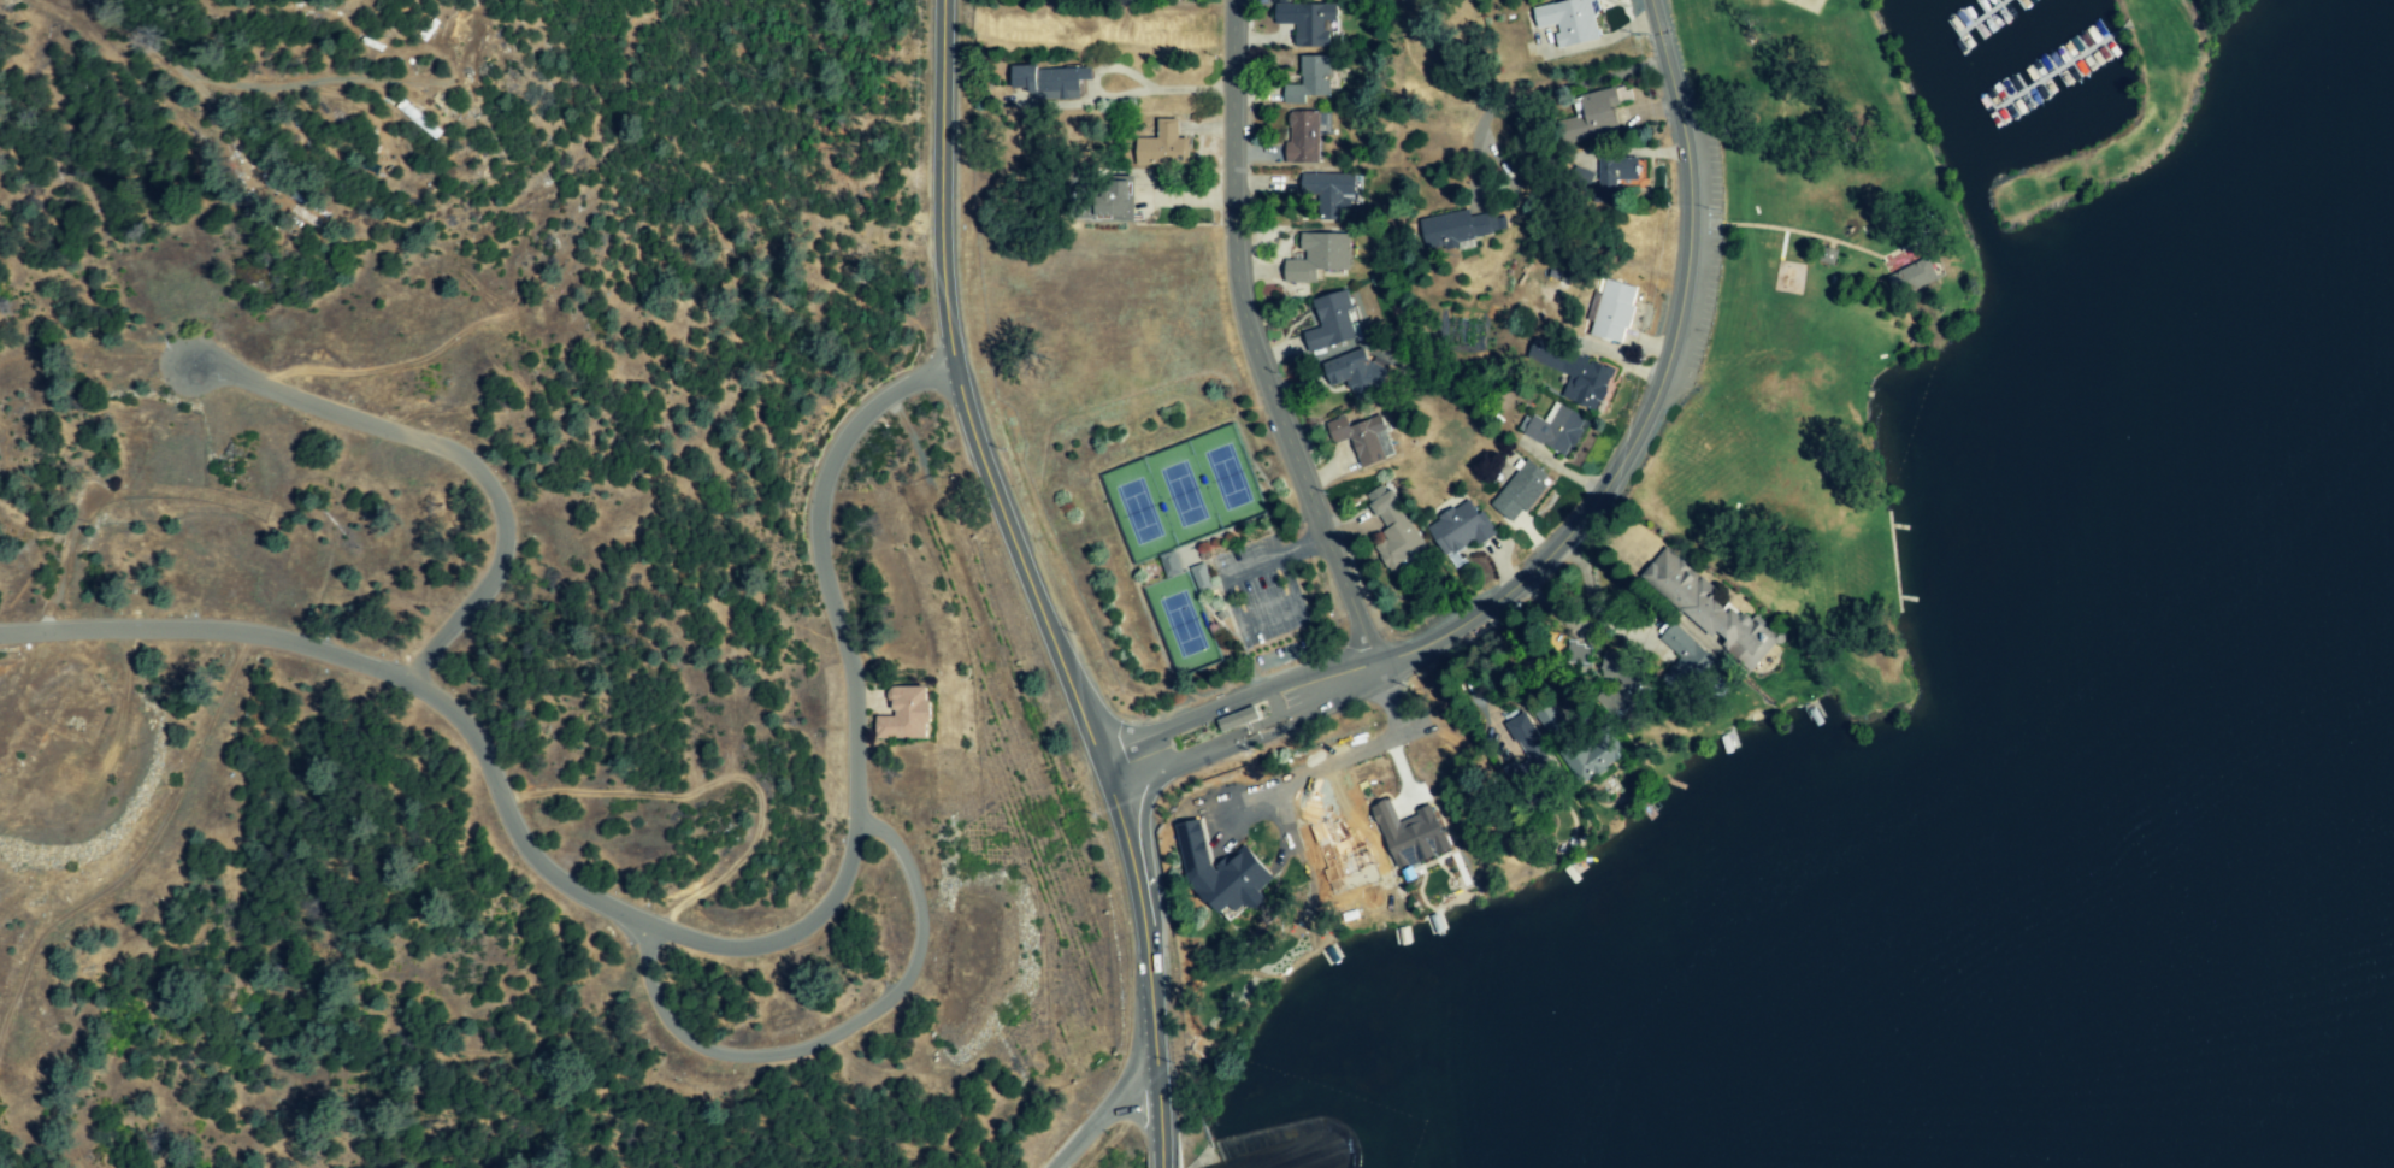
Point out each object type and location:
building: (1572, 22)
building: (1310, 23)
park: (2203, 29)
building: (1310, 81)
building: (1051, 82)
road: (1119, 94)
road: (1541, 94)
building: (1598, 116)
park: (1805, 126)
building: (1307, 136)
building: (1164, 147)
building: (1615, 177)
building: (1333, 194)
building: (1108, 203)
building: (1458, 229)
building: (1320, 258)
building: (1615, 311)
building: (1333, 323)
road: (1249, 342)
building: (1574, 373)
building: (1357, 374)
building: (1558, 429)
building: (1361, 437)
road: (459, 454)
building: (1523, 490)
road: (1582, 508)
building: (1462, 527)
building: (1394, 531)
building: (1171, 564)
road: (1038, 567)
building: (1710, 607)
building: (1580, 655)
building: (1687, 663)
building: (1623, 683)
building: (909, 714)
building: (1550, 719)
building: (1529, 749)
road: (1362, 755)
building: (1593, 756)
building: (1413, 834)
building: (1223, 871)
building: (1270, 919)
road: (676, 933)
road: (844, 1032)
dam: (1298, 1113)
road: (1098, 1115)
road: (1162, 1150)

